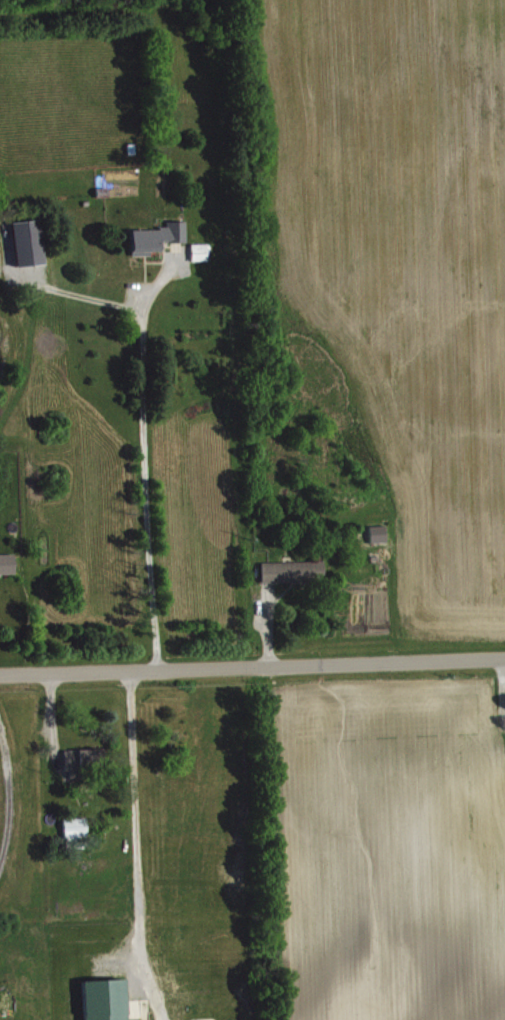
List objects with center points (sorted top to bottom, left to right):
building: (159, 238)
building: (30, 243)
building: (202, 252)
road: (143, 461)
building: (8, 565)
building: (295, 572)
road: (252, 670)
building: (86, 760)
road: (9, 795)
road: (135, 827)
building: (77, 832)
building: (109, 1000)

